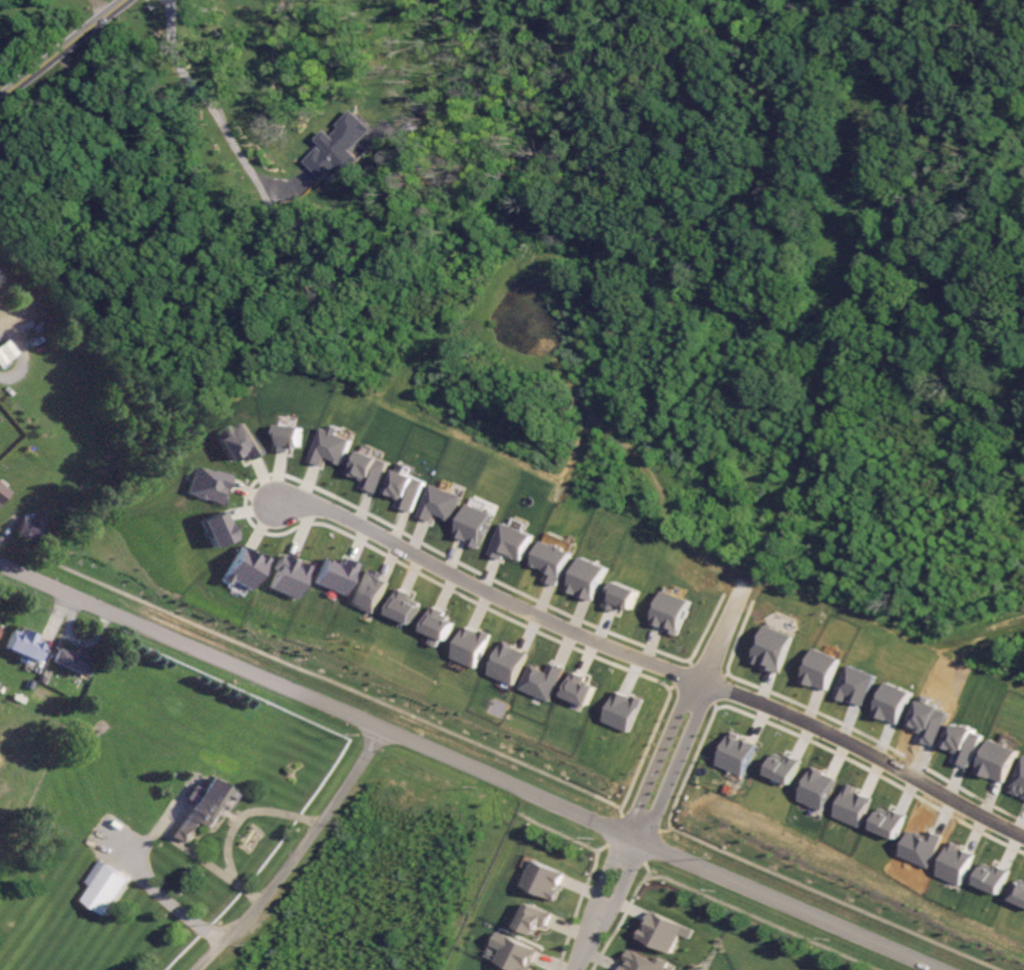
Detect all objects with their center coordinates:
road: (99, 8)
road: (63, 50)
road: (215, 106)
building: (338, 147)
building: (4, 352)
building: (286, 439)
building: (236, 444)
building: (329, 447)
building: (370, 471)
building: (207, 485)
building: (406, 490)
building: (2, 494)
building: (102, 499)
building: (440, 504)
building: (475, 524)
building: (31, 529)
building: (217, 531)
building: (512, 541)
building: (552, 561)
building: (245, 567)
building: (334, 576)
building: (587, 577)
building: (287, 578)
building: (368, 592)
road: (492, 592)
building: (403, 606)
building: (672, 611)
building: (437, 625)
building: (1, 629)
building: (471, 645)
building: (27, 646)
building: (773, 647)
building: (74, 662)
building: (508, 662)
building: (821, 668)
building: (47, 677)
building: (543, 680)
building: (30, 685)
building: (580, 688)
building: (18, 699)
road: (680, 718)
road: (864, 751)
building: (737, 753)
building: (997, 760)
road: (469, 769)
building: (817, 788)
building: (206, 809)
road: (235, 826)
road: (298, 854)
road: (142, 860)
building: (992, 878)
building: (543, 879)
building: (108, 890)
road: (600, 905)
building: (535, 919)
building: (662, 931)
building: (515, 952)
building: (642, 962)
building: (490, 969)

